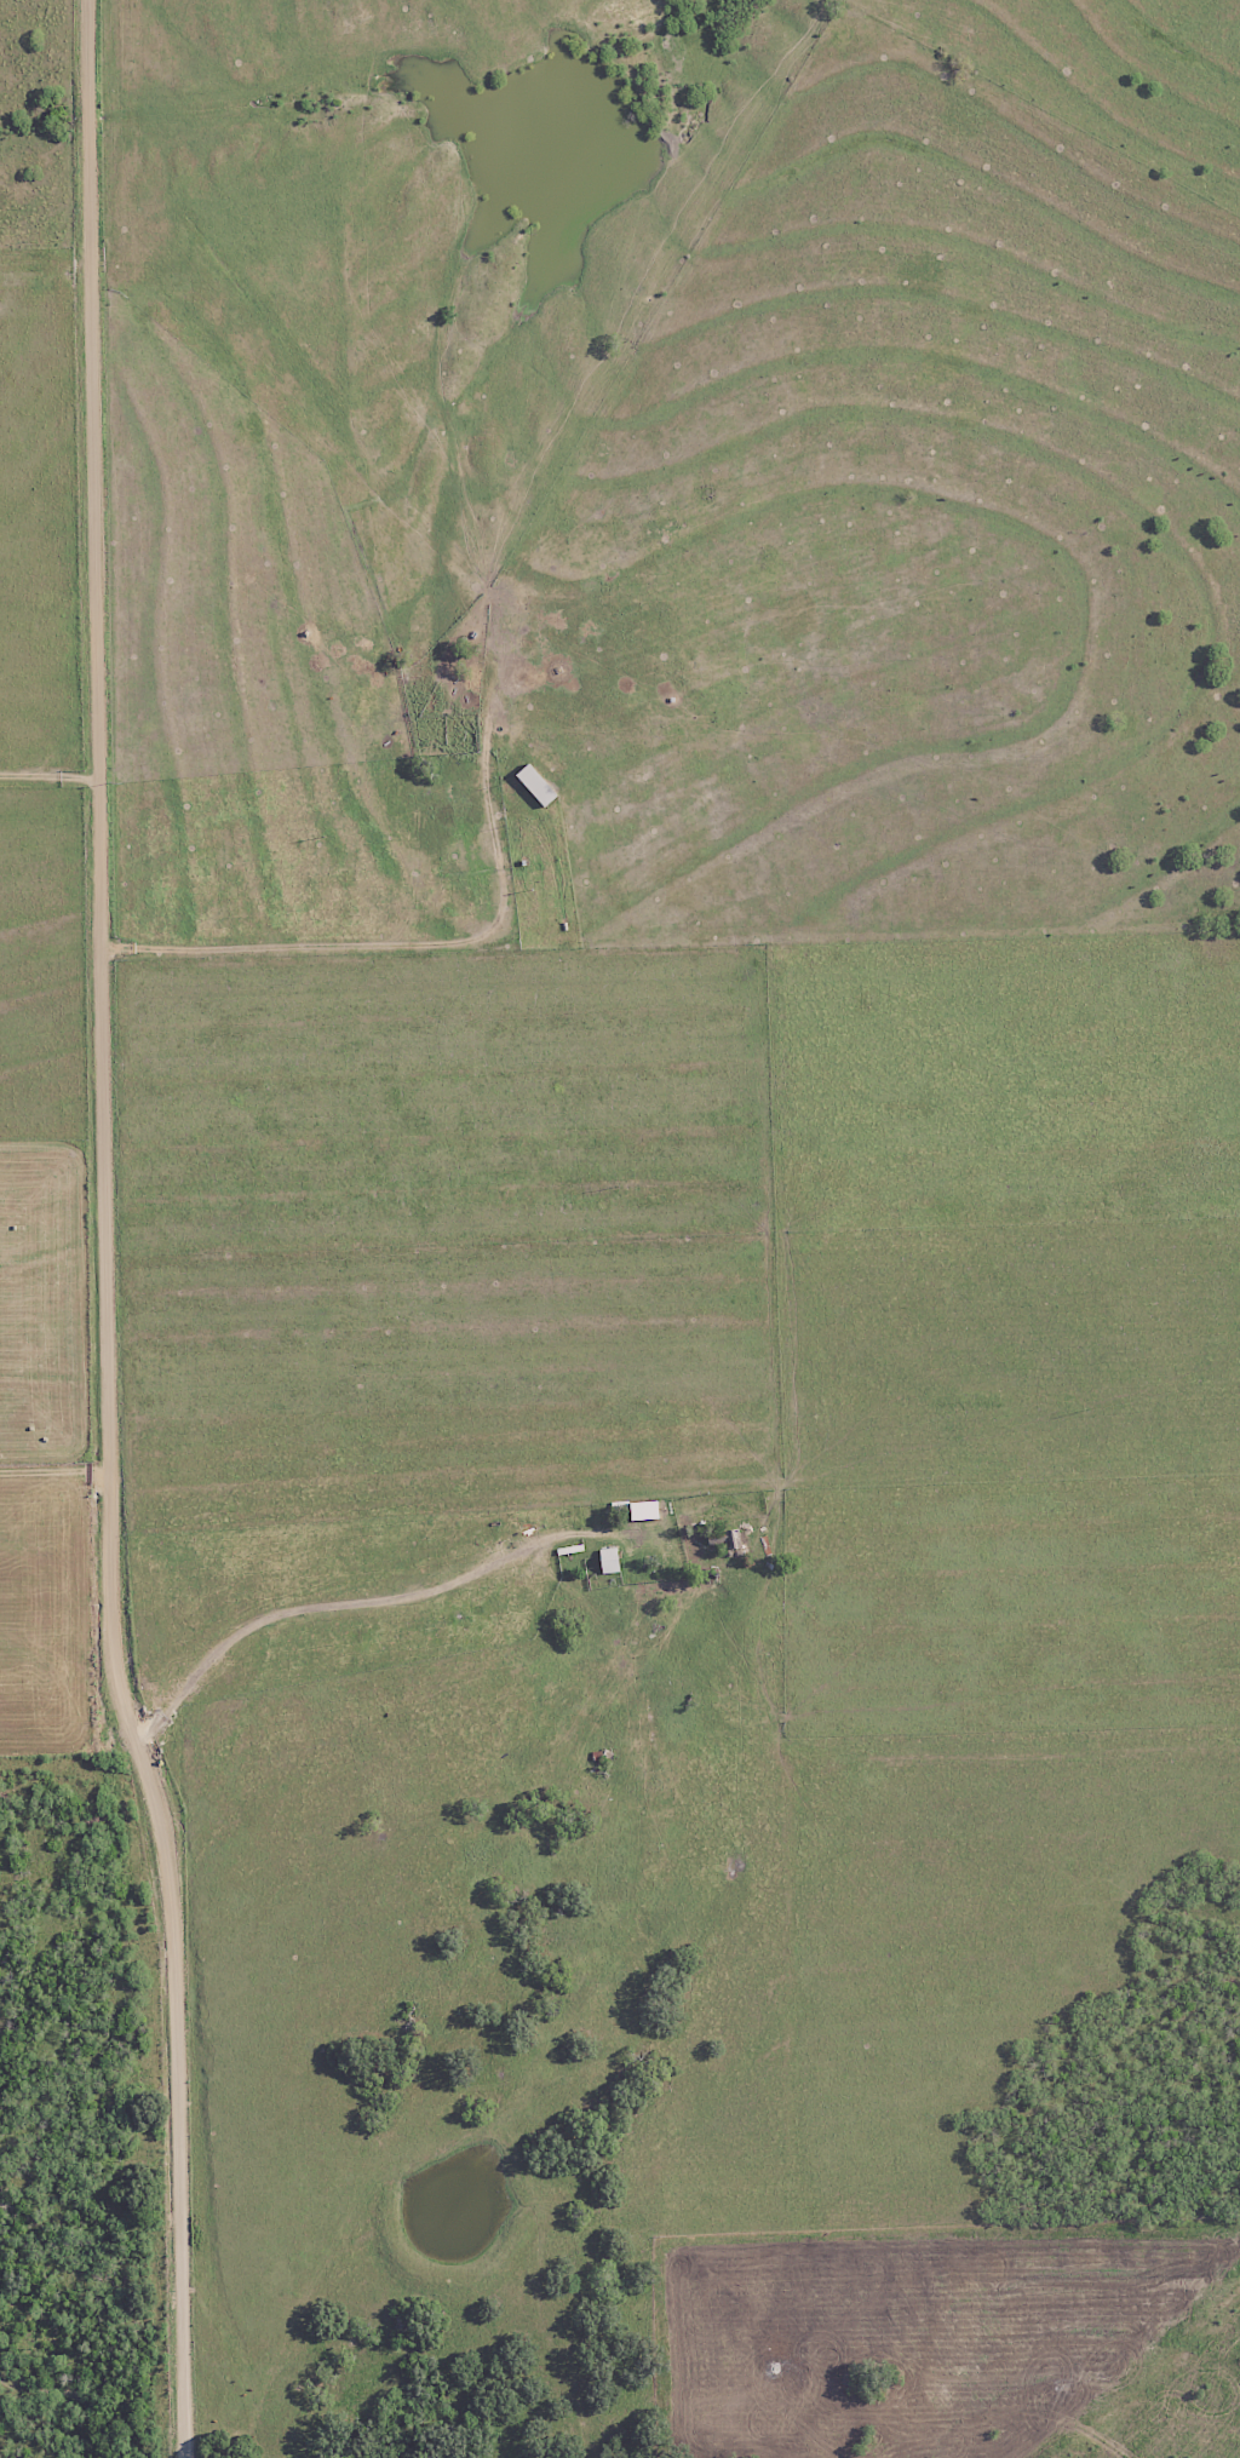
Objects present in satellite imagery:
road: (369, 977)
road: (109, 1231)
building: (636, 1509)
road: (438, 1610)

